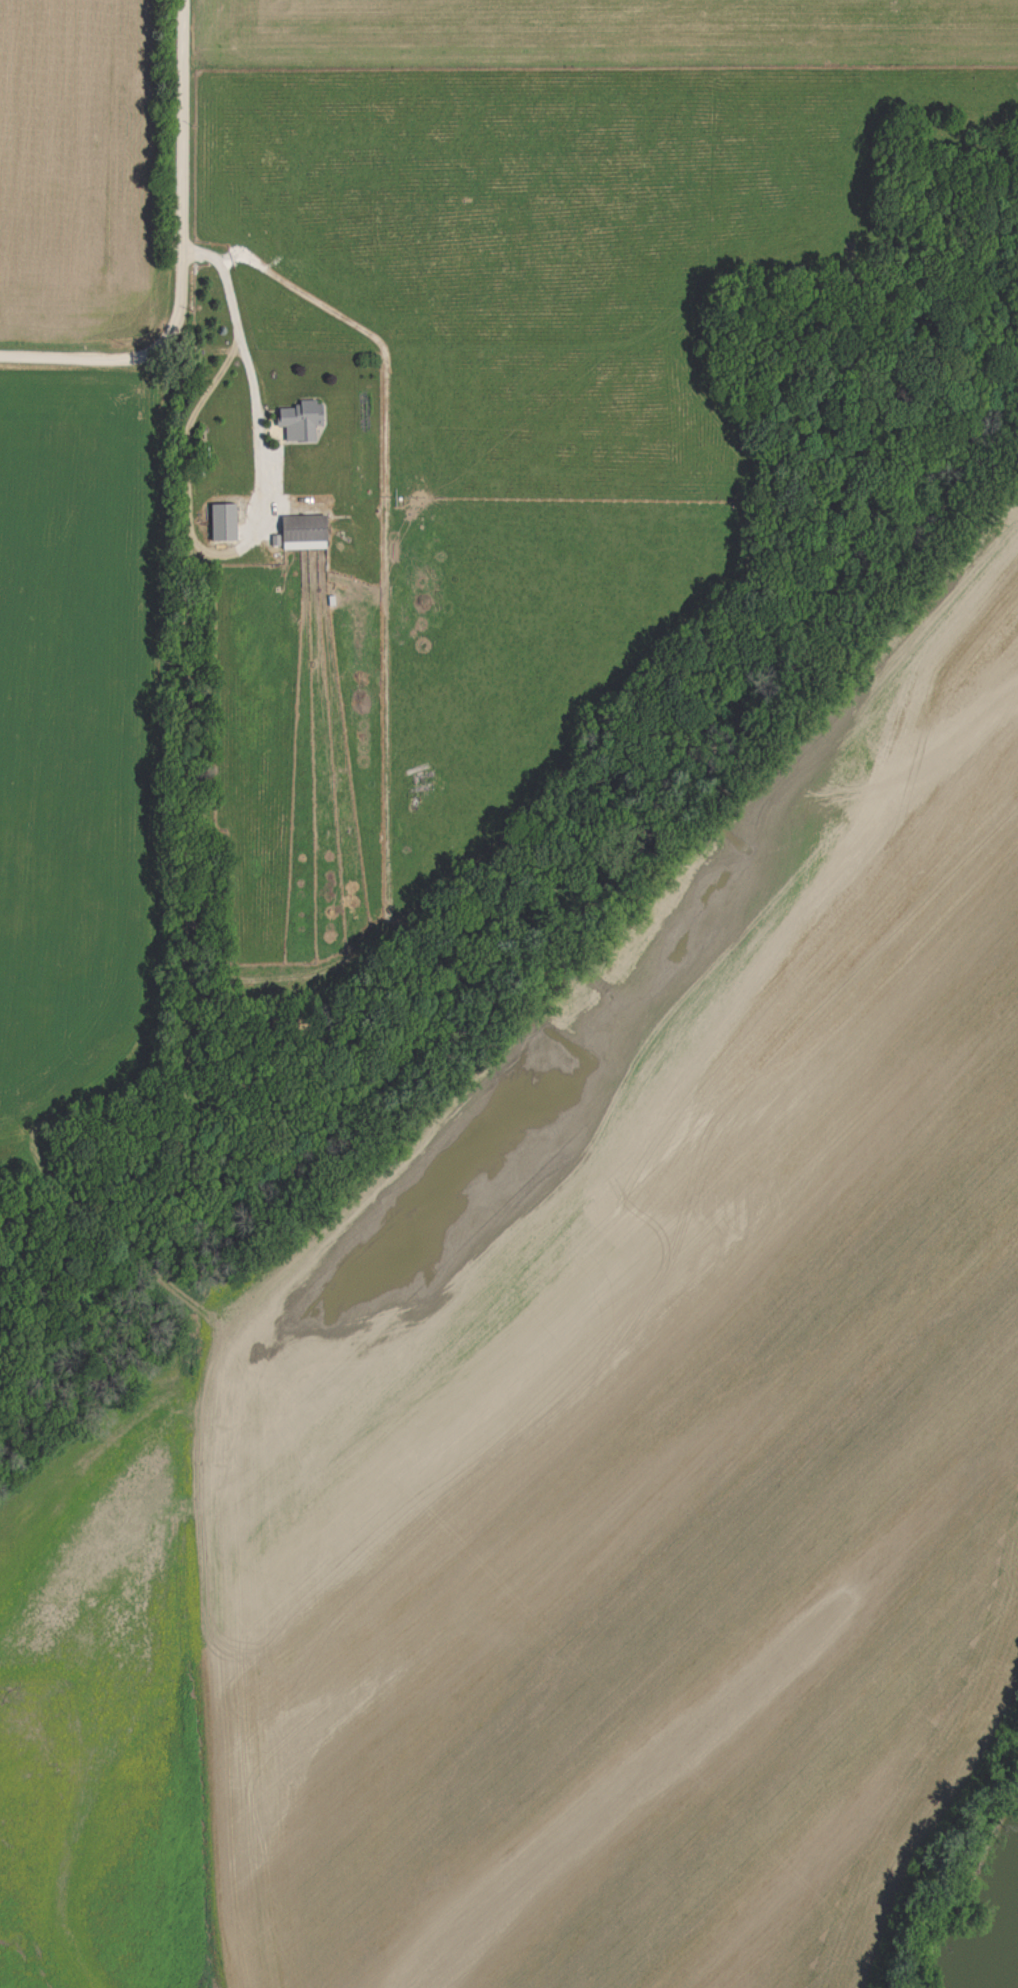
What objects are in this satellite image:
road: (182, 174)
road: (235, 327)
road: (81, 345)
building: (302, 422)
building: (222, 524)
building: (305, 534)

